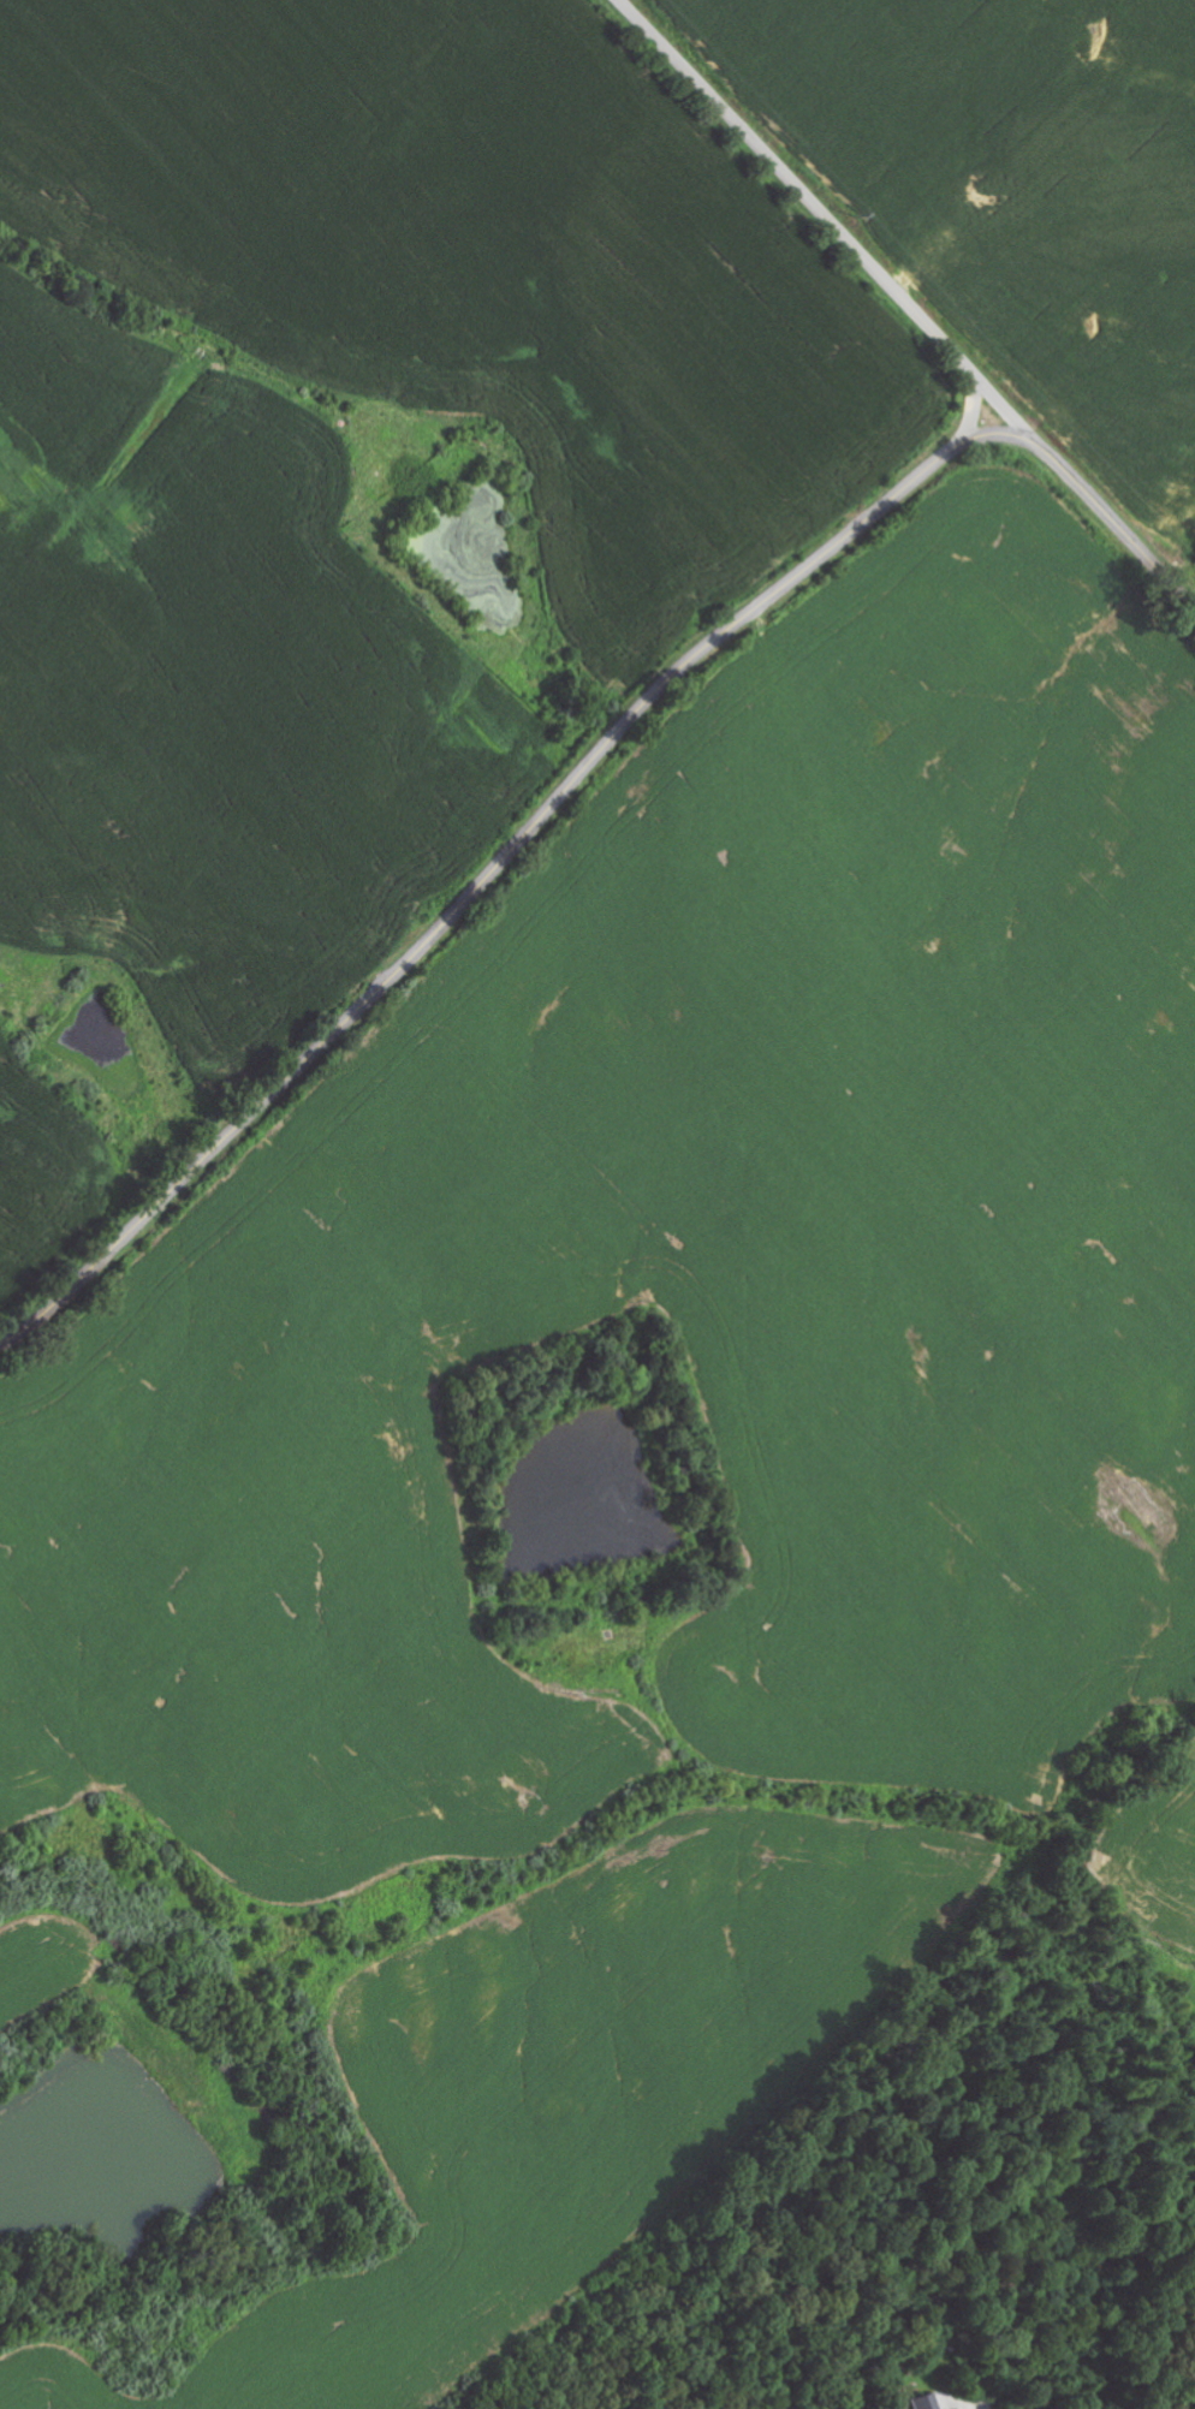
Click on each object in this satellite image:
road: (818, 210)
road: (1003, 408)
road: (582, 771)
building: (928, 2402)

